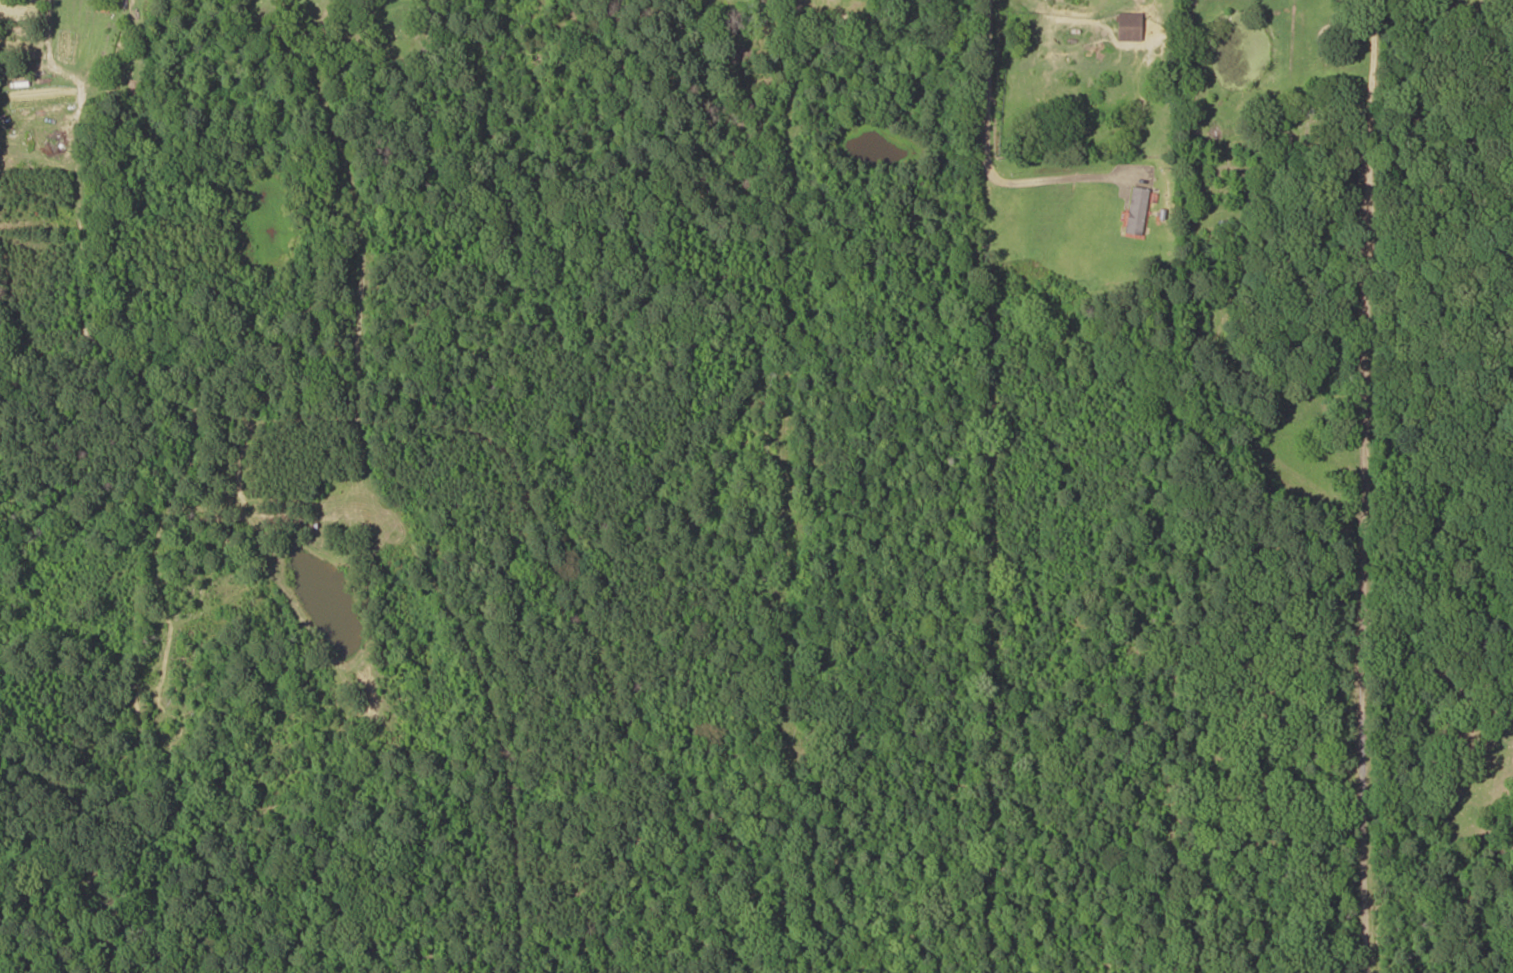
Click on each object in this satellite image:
building: (1127, 27)
building: (1134, 211)

